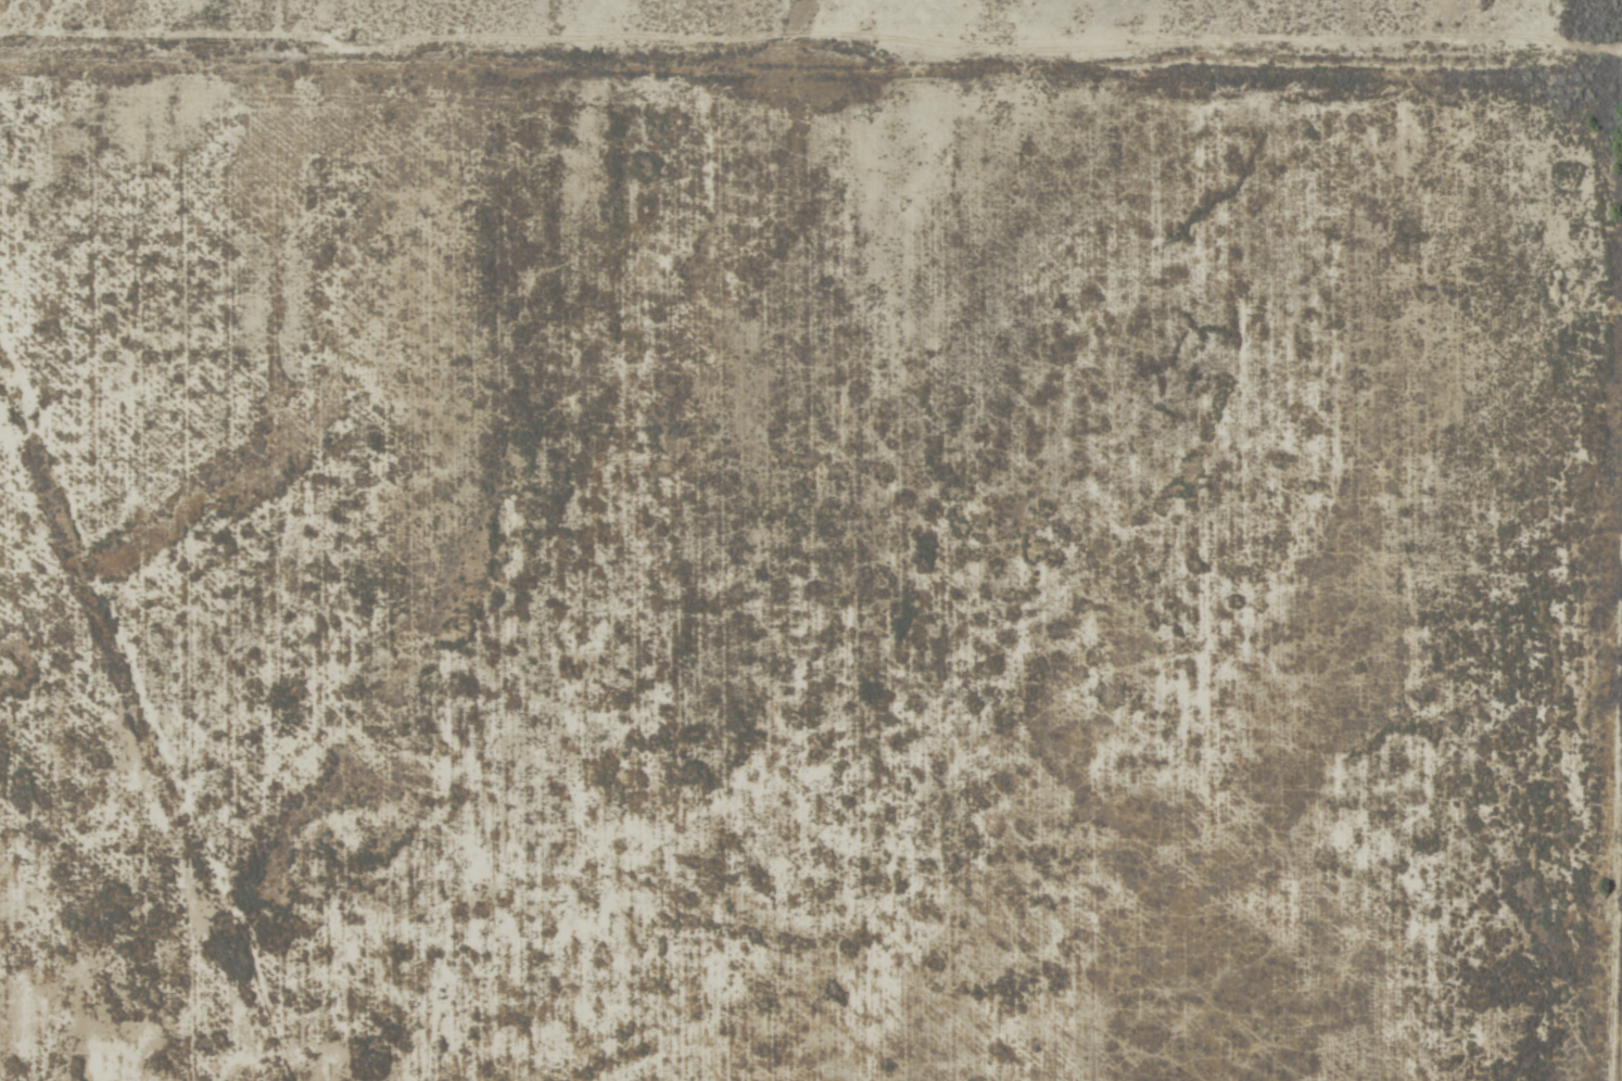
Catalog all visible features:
crop: (1608, 555)

